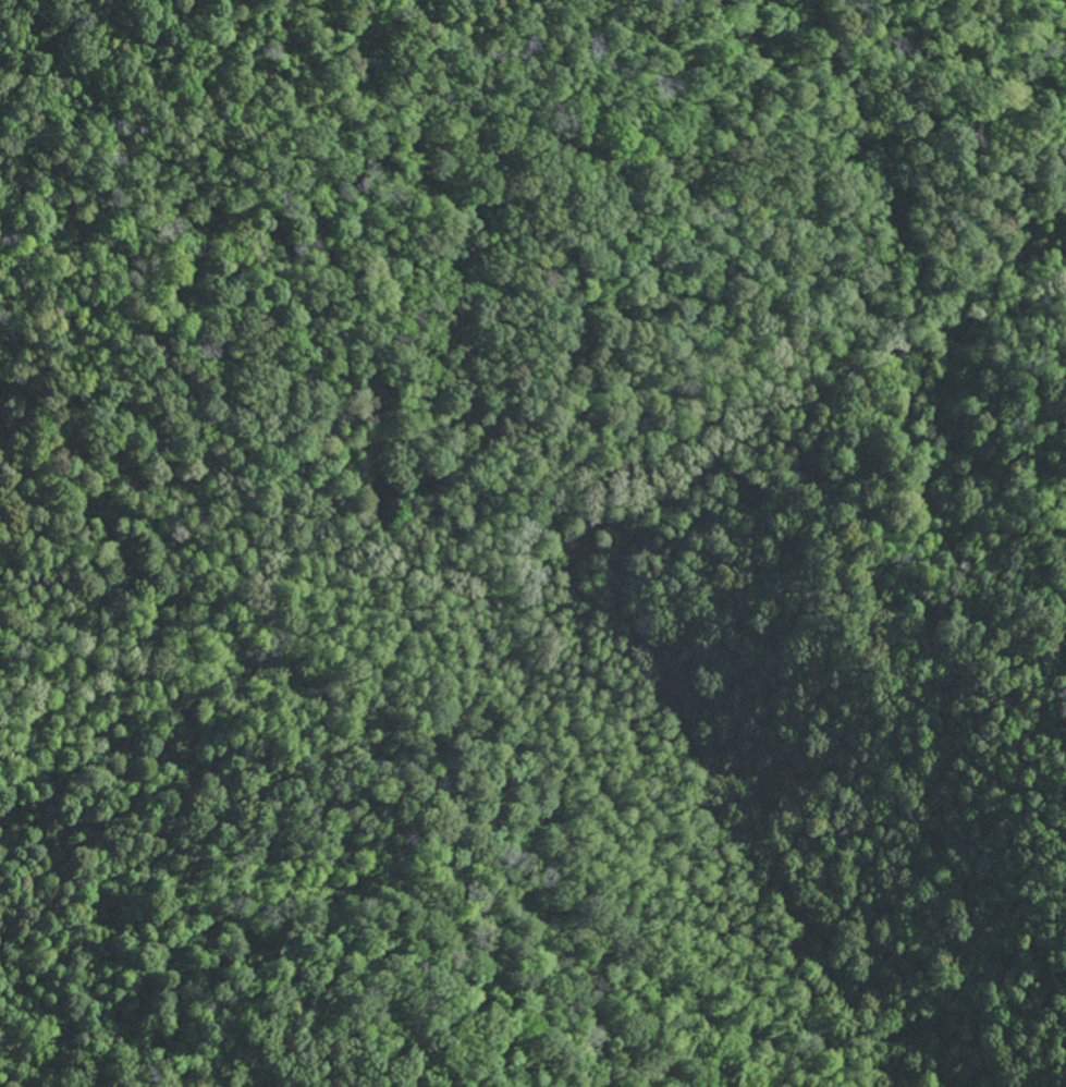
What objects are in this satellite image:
road: (915, 942)

